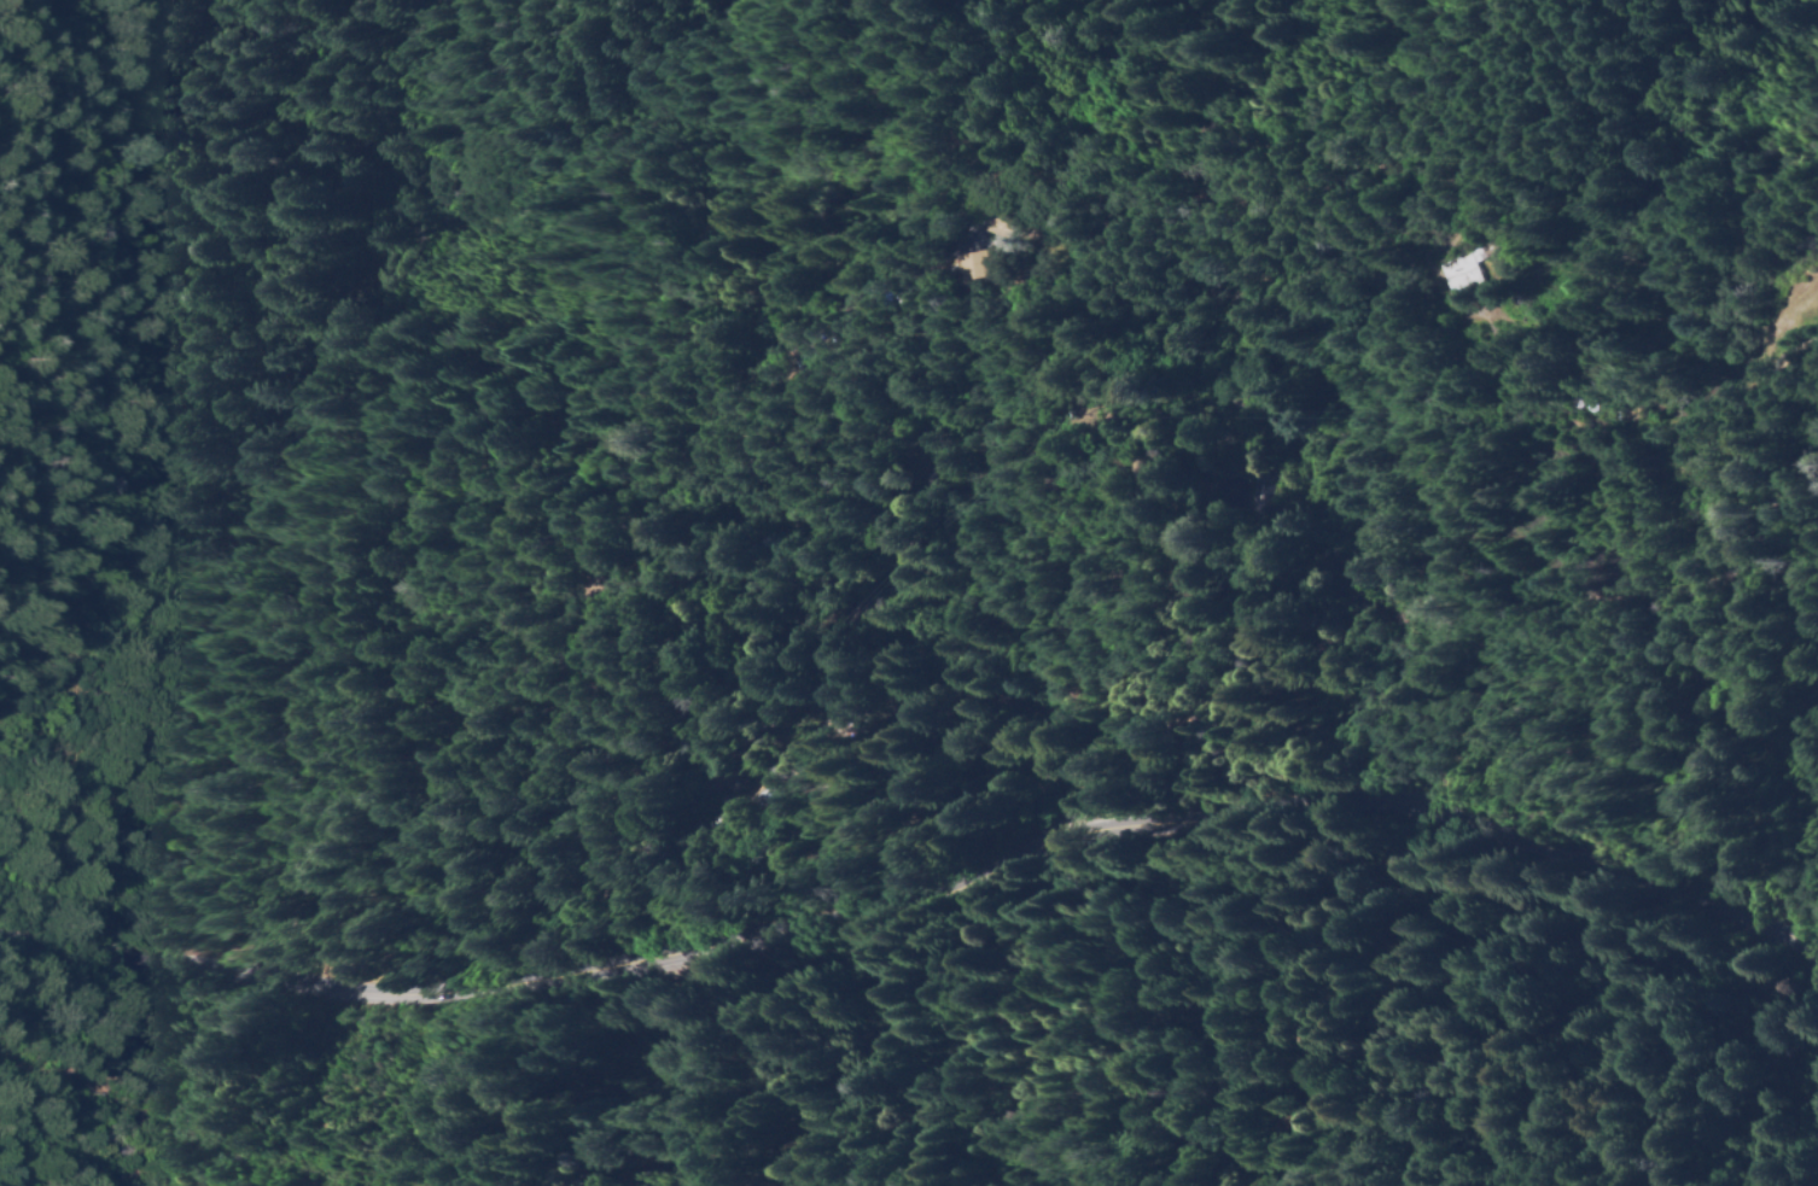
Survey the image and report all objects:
road: (1810, 13)
building: (994, 223)
building: (978, 263)
building: (1470, 267)
road: (1618, 298)
building: (1577, 425)
road: (1560, 666)
building: (827, 705)
building: (721, 781)
building: (783, 787)
building: (761, 795)
building: (751, 799)
building: (701, 800)
building: (672, 824)
road: (920, 883)

